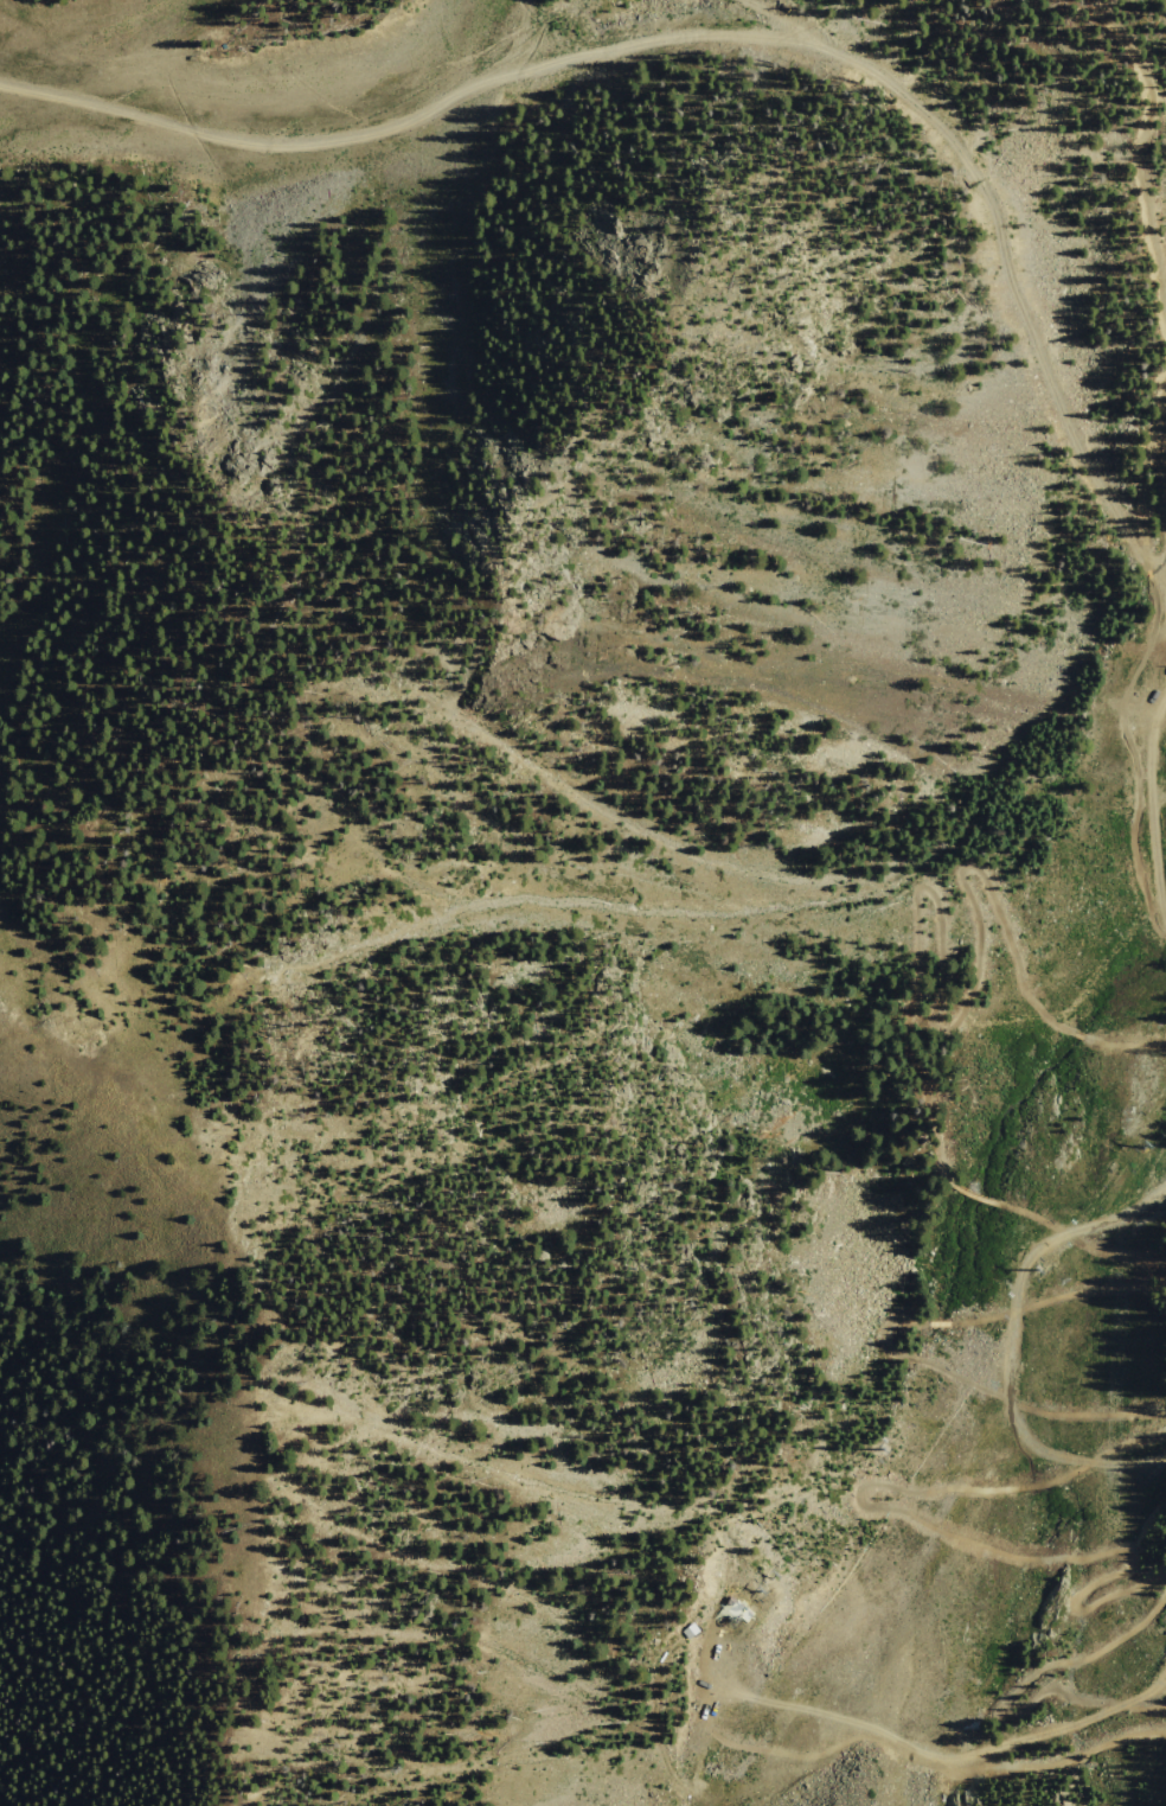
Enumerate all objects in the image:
road: (47, 92)
road: (460, 96)
road: (1140, 136)
road: (1005, 253)
road: (1143, 483)
building: (1165, 670)
road: (1159, 797)
road: (1151, 811)
ski resort: (621, 859)
aerialway pylon: (1122, 1136)
aerialway pylon: (1006, 1268)
road: (1008, 1340)
aerialway pylon: (844, 1453)
road: (968, 1536)
building: (690, 1629)
road: (1030, 1676)
road: (949, 1753)

